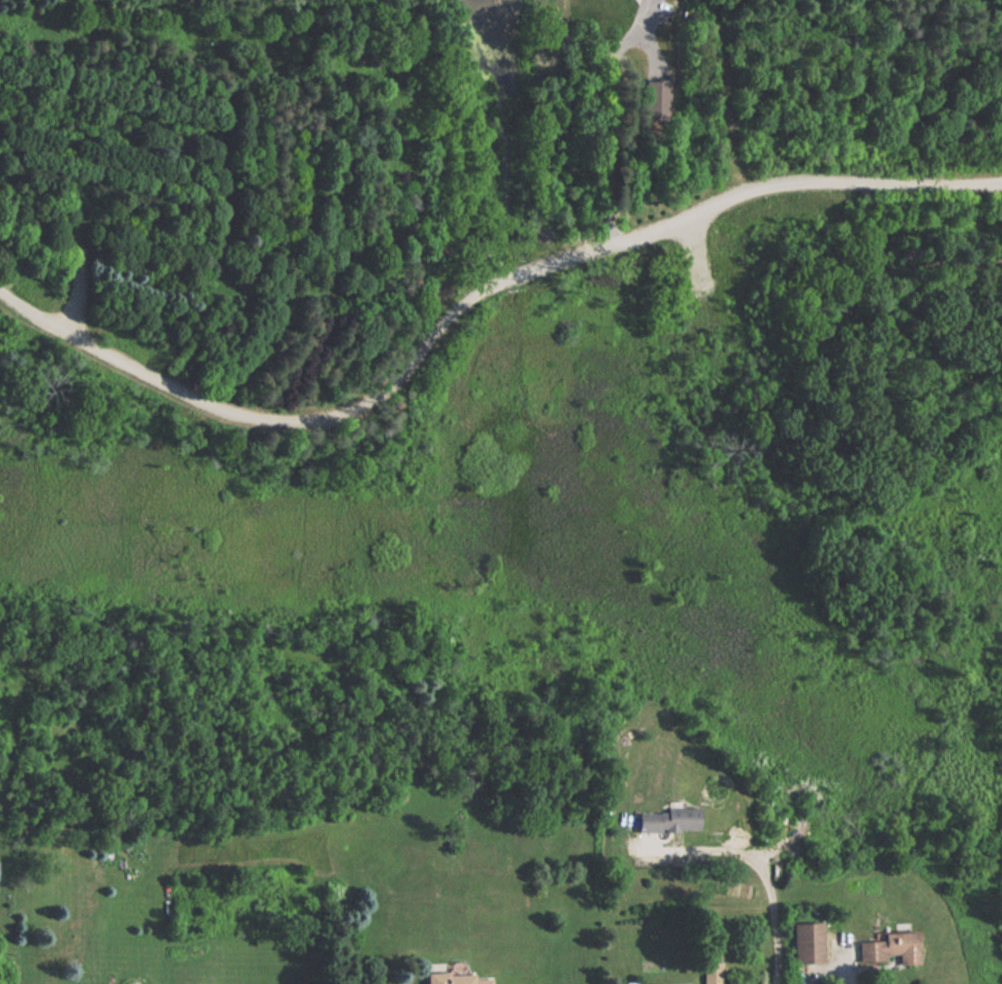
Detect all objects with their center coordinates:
road: (480, 289)
road: (5, 294)
building: (667, 820)
road: (763, 873)
building: (807, 943)
building: (889, 948)
building: (711, 973)
building: (454, 978)

